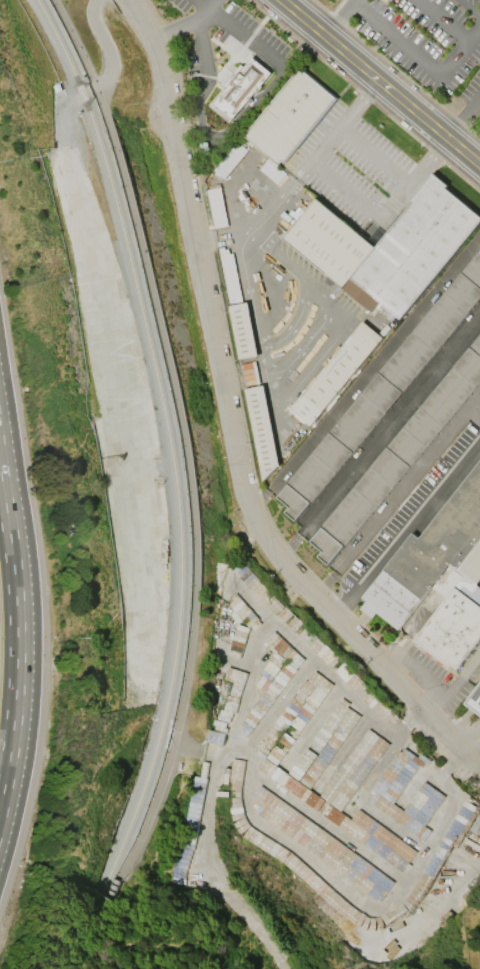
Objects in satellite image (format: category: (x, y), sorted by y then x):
road: (208, 5)
road: (469, 8)
road: (214, 10)
road: (347, 20)
road: (451, 29)
road: (174, 32)
road: (105, 46)
road: (415, 58)
road: (380, 82)
building: (240, 87)
road: (463, 116)
building: (289, 117)
road: (231, 129)
road: (319, 158)
road: (398, 180)
road: (362, 200)
building: (217, 207)
building: (388, 247)
road: (252, 301)
road: (328, 304)
road: (293, 325)
building: (242, 331)
building: (336, 373)
building: (382, 391)
road: (274, 409)
road: (475, 415)
road: (230, 421)
building: (262, 429)
road: (380, 436)
road: (184, 437)
railway: (170, 442)
building: (398, 455)
road: (396, 495)
building: (439, 578)
road: (16, 639)
road: (472, 669)
road: (240, 694)
road: (449, 699)
building: (475, 701)
road: (279, 704)
road: (359, 801)
building: (461, 818)
road: (326, 827)
building: (375, 838)
building: (323, 846)
road: (358, 900)

